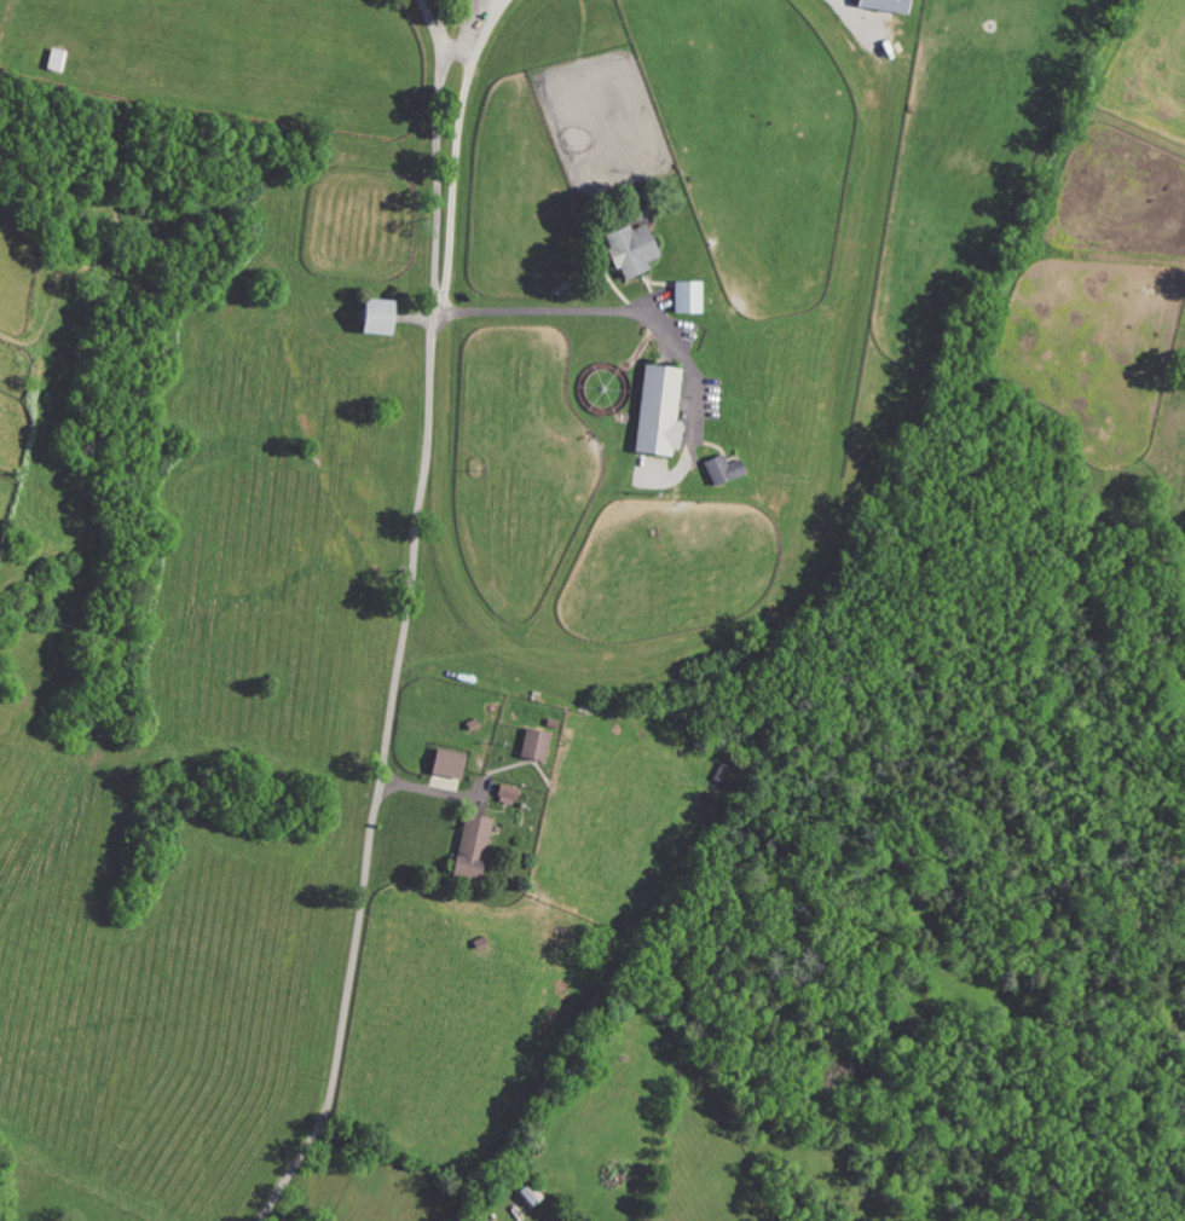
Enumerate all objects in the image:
building: (880, 5)
road: (849, 12)
road: (441, 19)
road: (455, 44)
building: (53, 60)
road: (435, 151)
road: (456, 154)
building: (628, 249)
building: (686, 296)
road: (611, 311)
building: (371, 317)
building: (655, 411)
building: (721, 469)
building: (532, 745)
building: (445, 764)
road: (378, 771)
building: (505, 794)
building: (469, 847)

